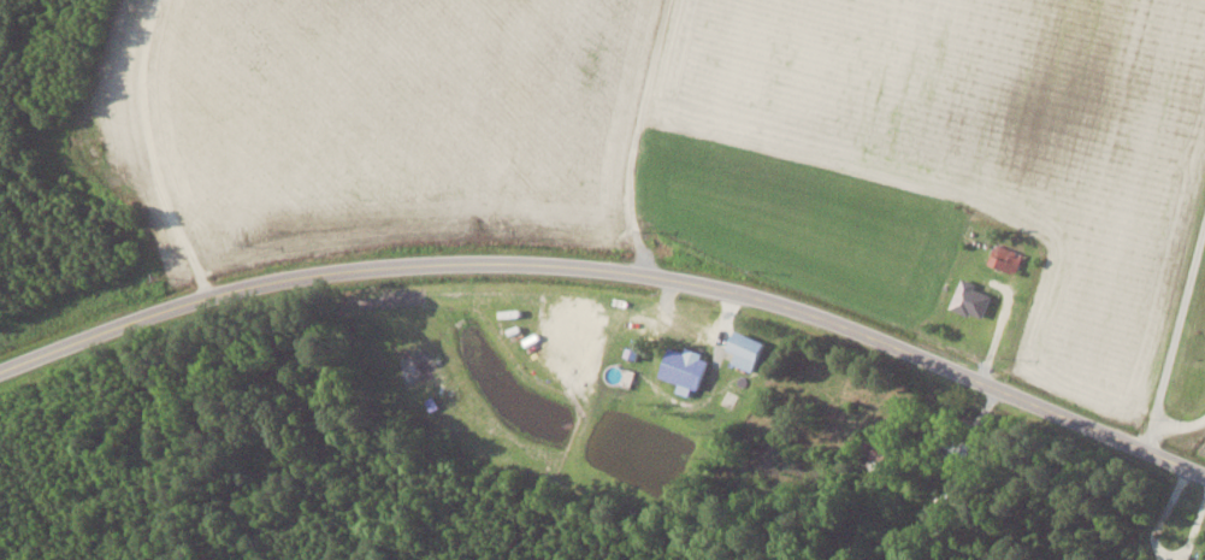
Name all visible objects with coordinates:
road: (638, 135)
road: (153, 152)
building: (1005, 258)
road: (614, 271)
building: (970, 299)
road: (1177, 320)
building: (745, 349)
building: (684, 367)
road: (1164, 424)
building: (953, 446)
building: (874, 452)
building: (1175, 559)

